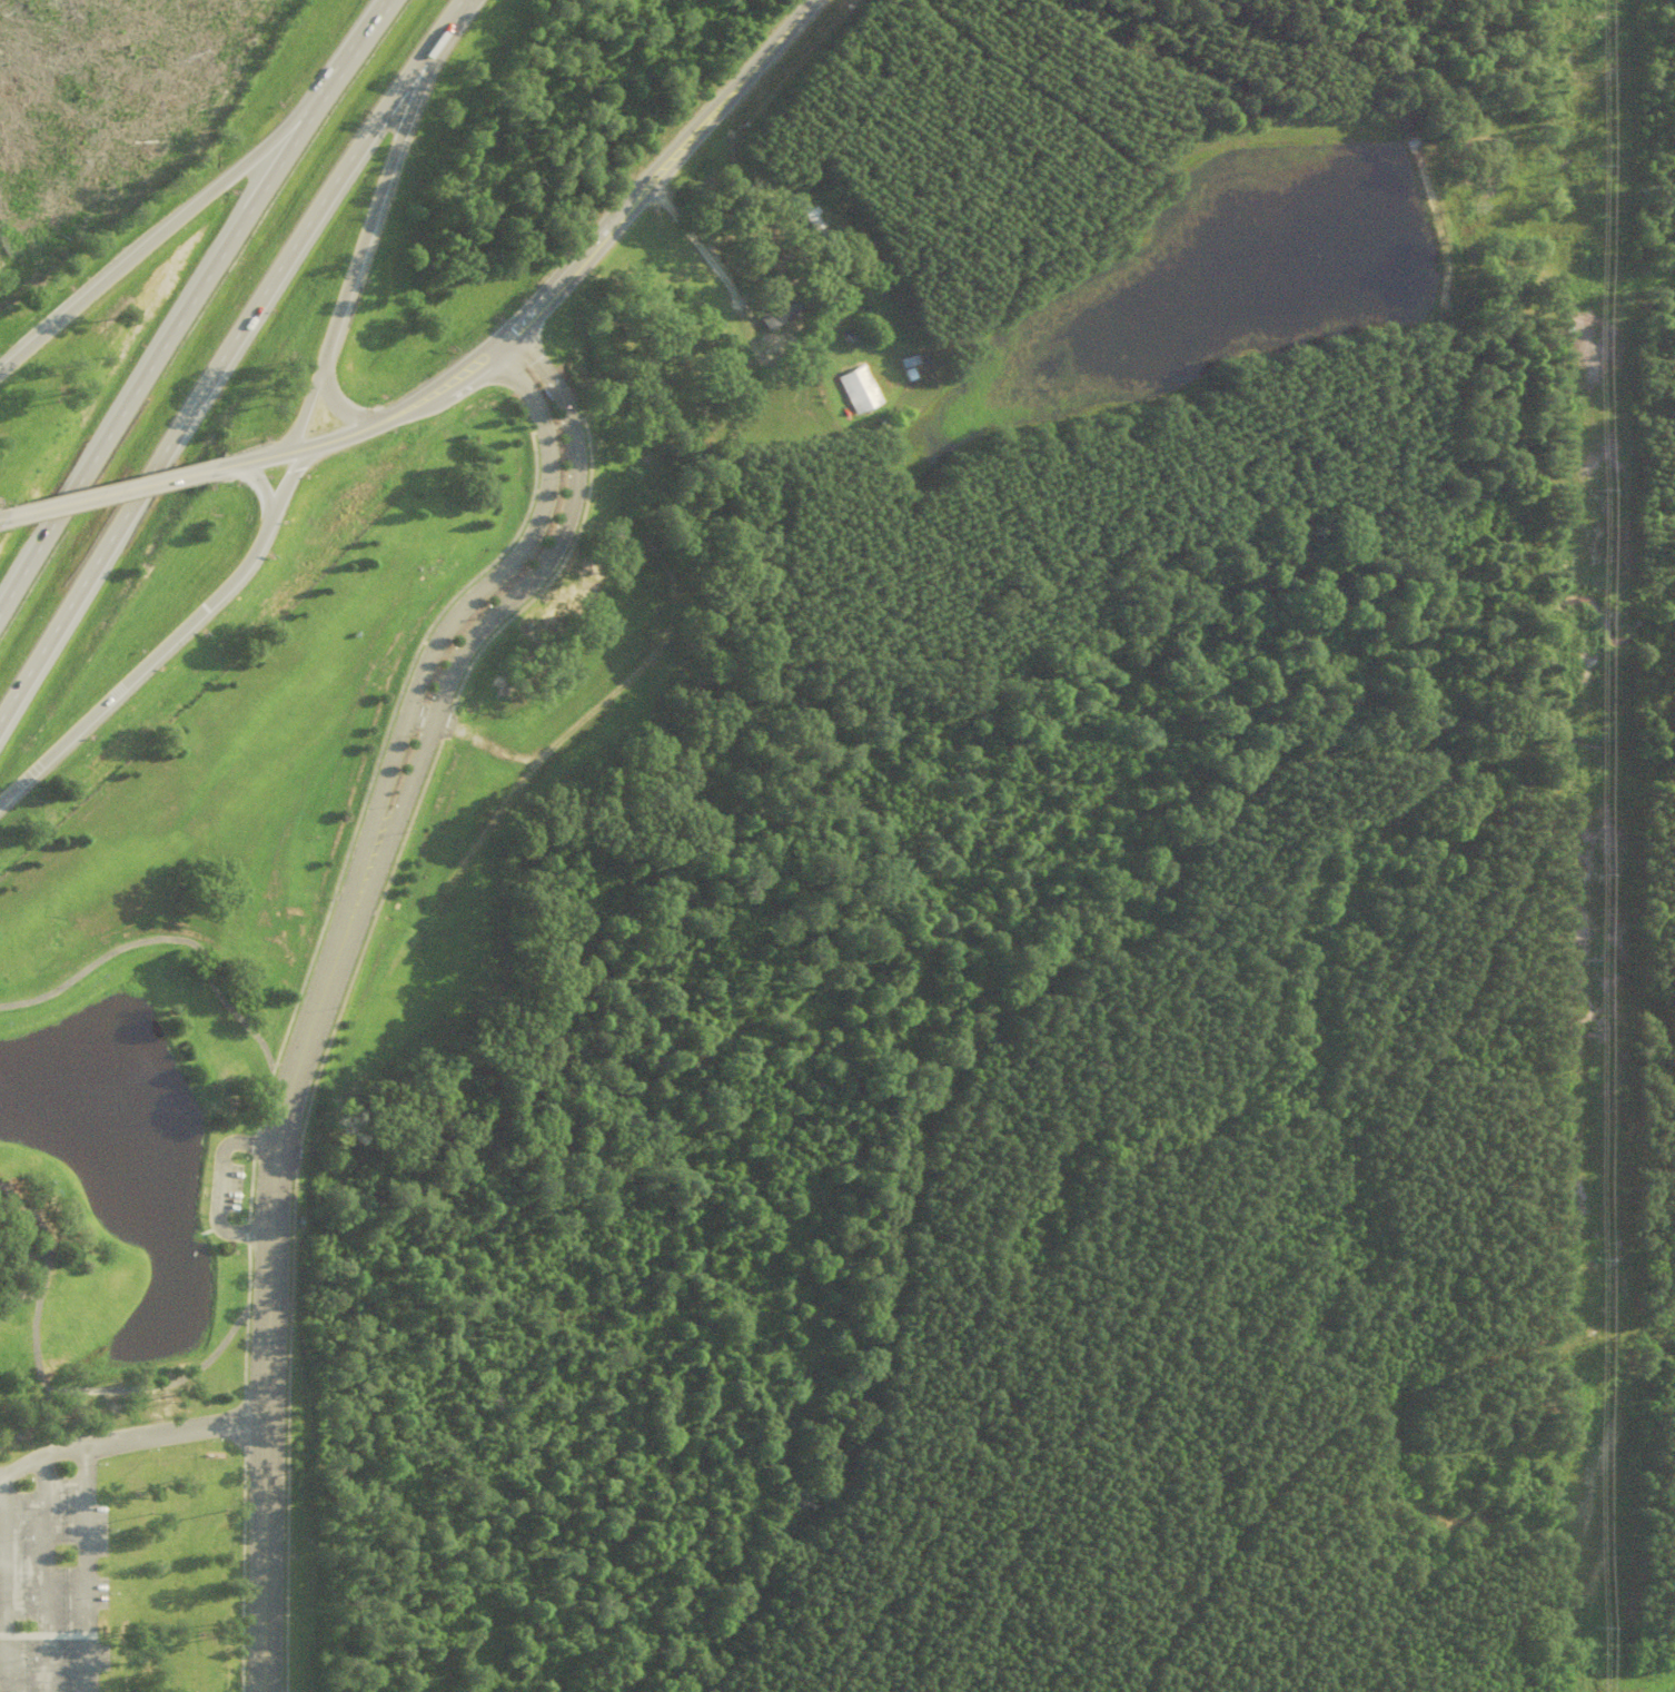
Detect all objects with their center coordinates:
road: (355, 57)
road: (740, 76)
road: (380, 187)
road: (184, 216)
road: (591, 241)
building: (782, 306)
road: (502, 340)
road: (28, 349)
road: (224, 355)
road: (156, 363)
road: (445, 379)
road: (552, 384)
building: (861, 388)
road: (304, 405)
road: (334, 405)
road: (385, 416)
road: (293, 446)
road: (291, 475)
road: (260, 485)
road: (108, 491)
road: (2, 516)
road: (205, 608)
road: (459, 612)
road: (454, 663)
road: (61, 745)
road: (194, 950)
park: (204, 961)
building: (225, 1047)
road: (244, 1146)
road: (254, 1146)
road: (219, 1187)
road: (248, 1190)
road: (41, 1228)
road: (236, 1235)
road: (245, 1235)
road: (269, 1292)
road: (125, 1389)
road: (128, 1441)
road: (87, 1570)

